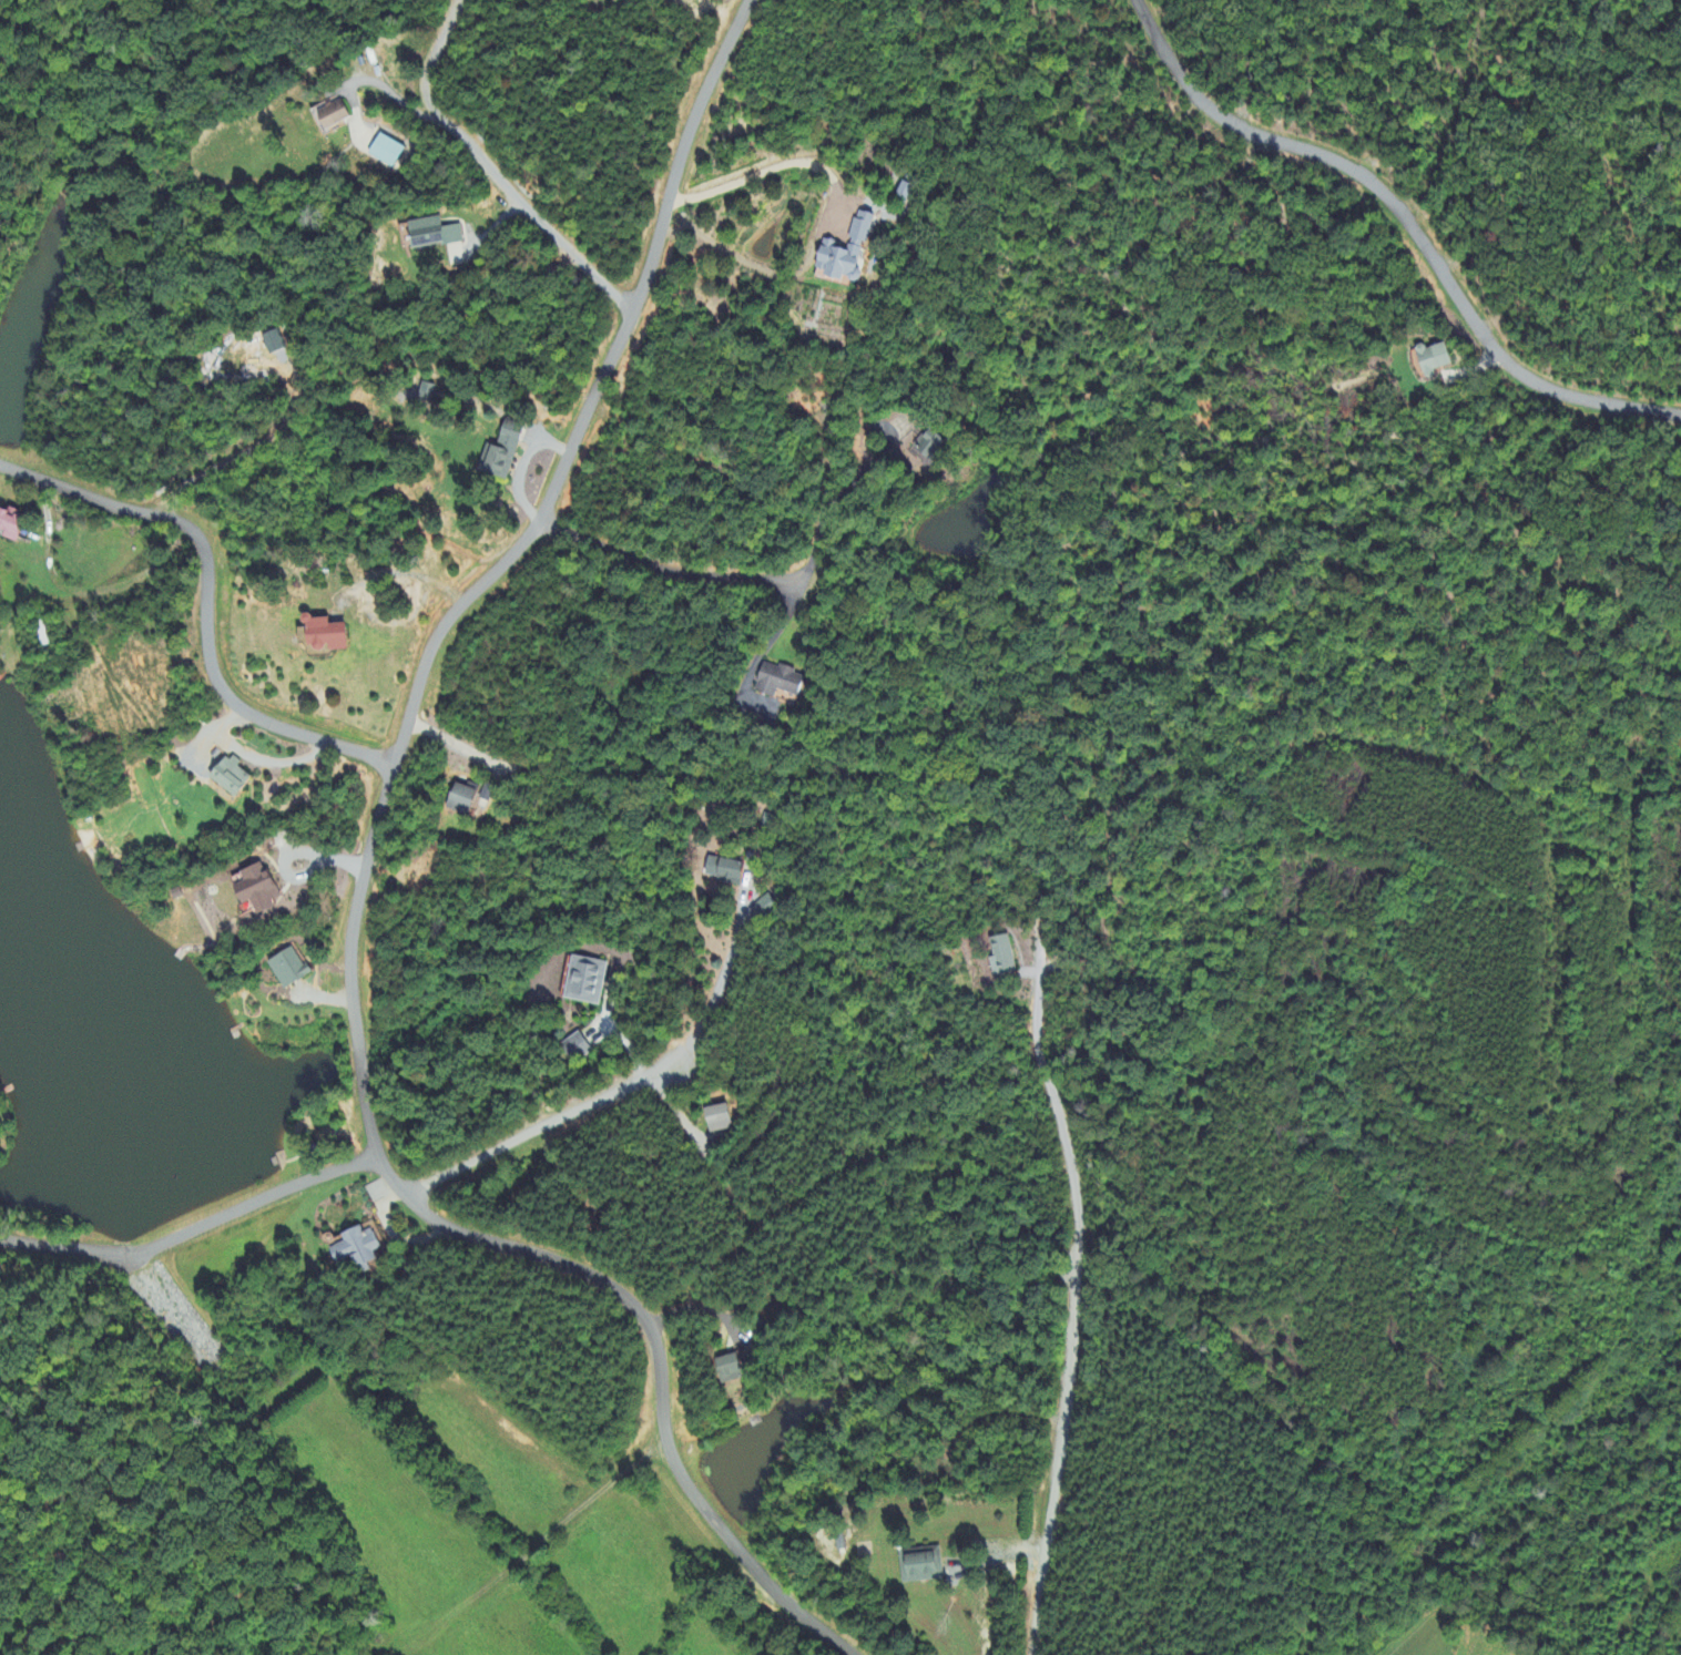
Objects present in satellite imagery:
building: (330, 116)
building: (384, 152)
road: (486, 165)
road: (757, 172)
road: (1403, 221)
building: (430, 235)
building: (843, 253)
building: (272, 343)
building: (1429, 361)
building: (417, 395)
road: (593, 398)
building: (929, 447)
building: (499, 453)
road: (857, 479)
building: (9, 524)
road: (663, 568)
road: (208, 602)
building: (320, 634)
building: (777, 682)
building: (227, 777)
building: (459, 799)
building: (724, 872)
building: (253, 890)
building: (764, 907)
building: (1000, 957)
building: (286, 969)
building: (584, 982)
road: (625, 1083)
building: (716, 1120)
road: (284, 1194)
road: (181, 1237)
road: (513, 1244)
building: (359, 1249)
road: (85, 1254)
road: (1076, 1307)
building: (727, 1369)
building: (919, 1566)

